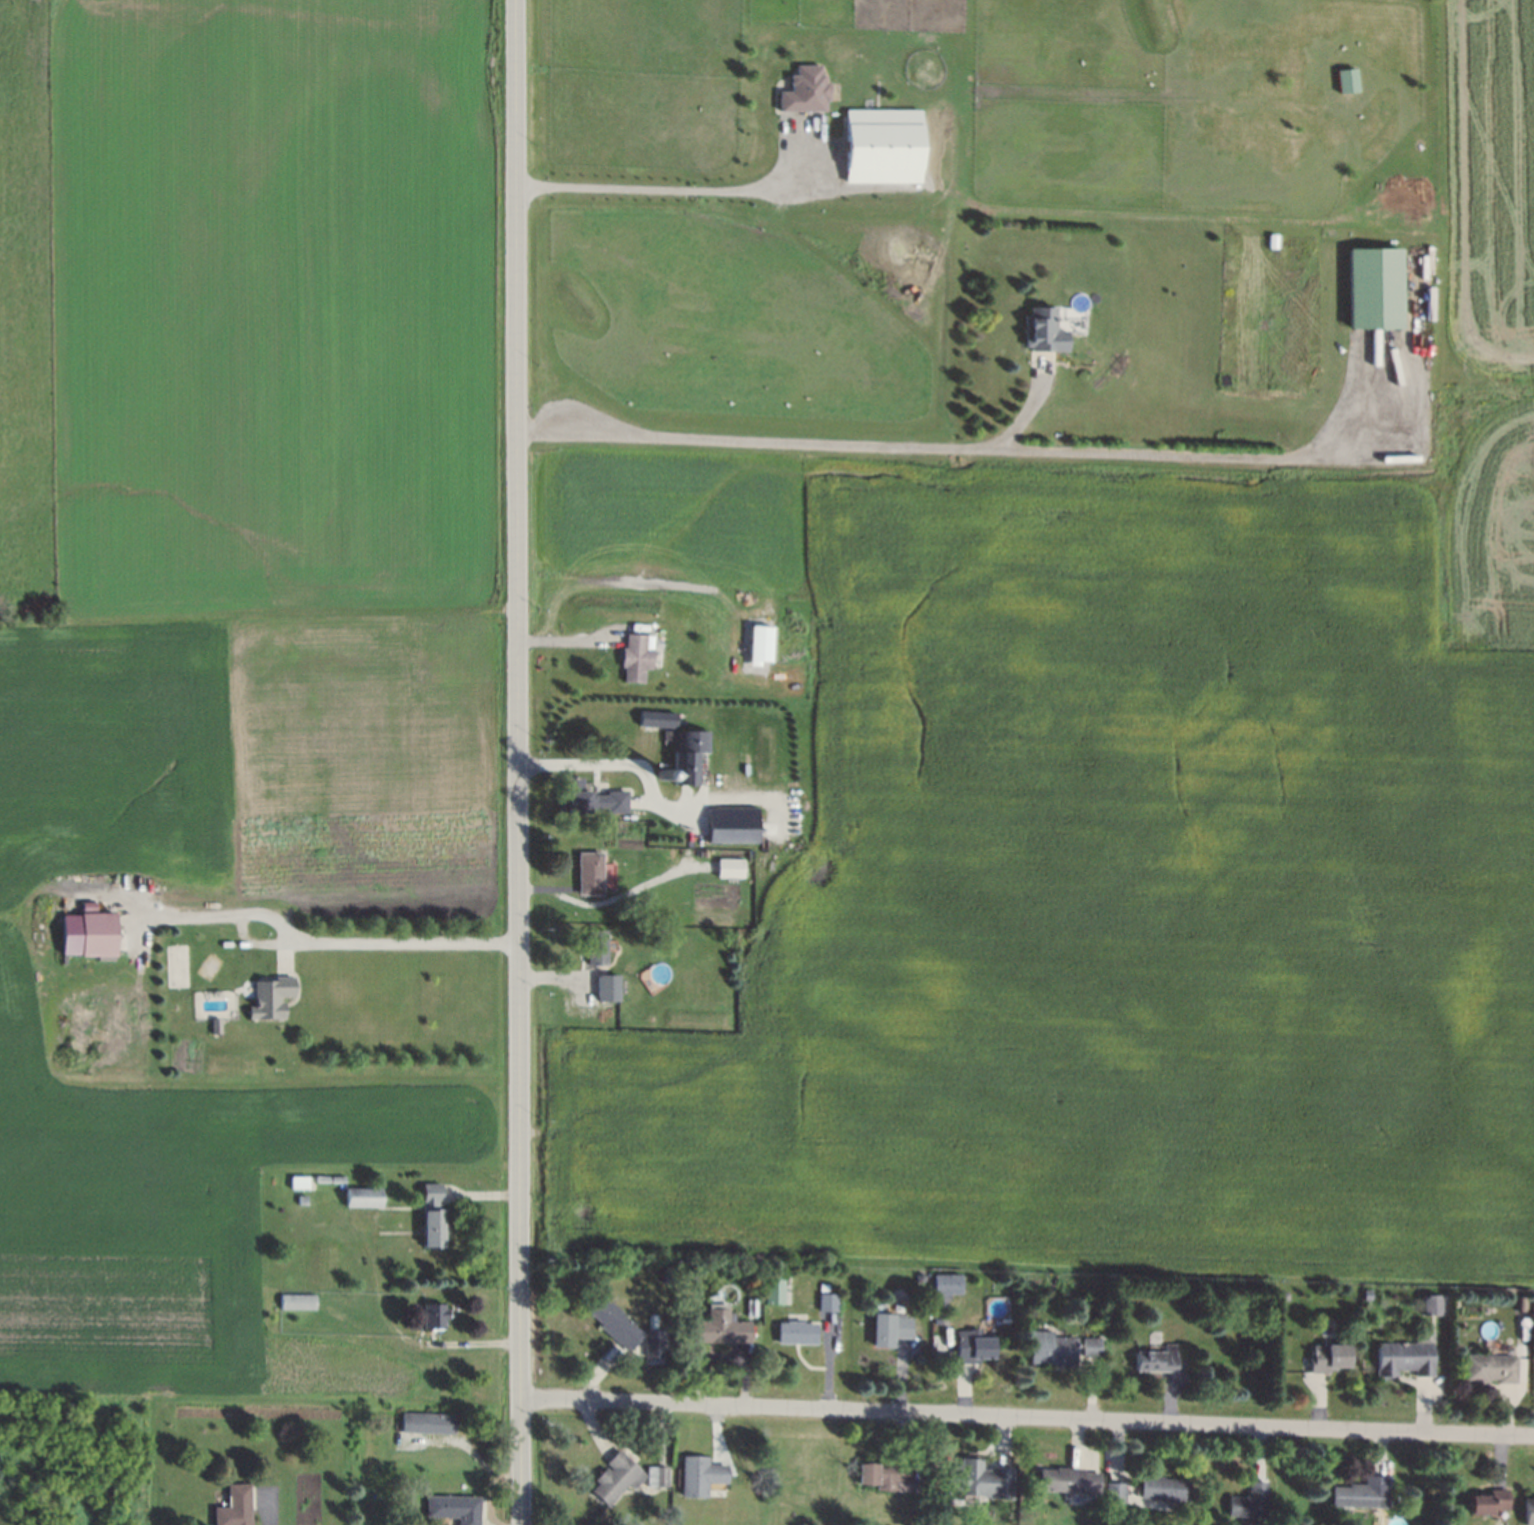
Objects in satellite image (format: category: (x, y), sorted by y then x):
building: (1342, 79)
building: (800, 89)
building: (880, 143)
road: (660, 188)
crop: (1493, 195)
building: (1369, 287)
building: (1070, 320)
building: (1041, 329)
road: (1029, 407)
road: (941, 445)
building: (756, 645)
building: (632, 656)
building: (652, 715)
building: (688, 759)
road: (519, 762)
building: (663, 762)
road: (620, 763)
building: (660, 781)
building: (667, 795)
building: (587, 798)
building: (728, 823)
building: (662, 833)
building: (726, 867)
building: (586, 872)
building: (84, 937)
road: (330, 940)
building: (593, 946)
building: (605, 985)
building: (267, 996)
building: (211, 1025)
building: (324, 1177)
building: (293, 1180)
building: (359, 1195)
building: (298, 1198)
building: (430, 1215)
building: (943, 1282)
building: (769, 1287)
building: (1362, 1291)
building: (1277, 1295)
building: (294, 1300)
building: (823, 1300)
building: (1514, 1302)
building: (1424, 1305)
building: (431, 1314)
building: (612, 1323)
building: (884, 1327)
building: (716, 1328)
building: (791, 1331)
building: (650, 1343)
building: (1085, 1345)
building: (968, 1347)
building: (1046, 1347)
building: (1321, 1356)
building: (1397, 1356)
building: (1150, 1358)
building: (1484, 1366)
road: (1028, 1415)
building: (424, 1422)
building: (696, 1474)
building: (880, 1474)
building: (654, 1475)
building: (613, 1477)
building: (1062, 1479)
building: (973, 1480)
building: (1156, 1487)
building: (1111, 1489)
building: (1357, 1492)
building: (1244, 1500)
building: (1482, 1500)
building: (230, 1506)
road: (267, 1507)
building: (454, 1507)
building: (1527, 1507)

